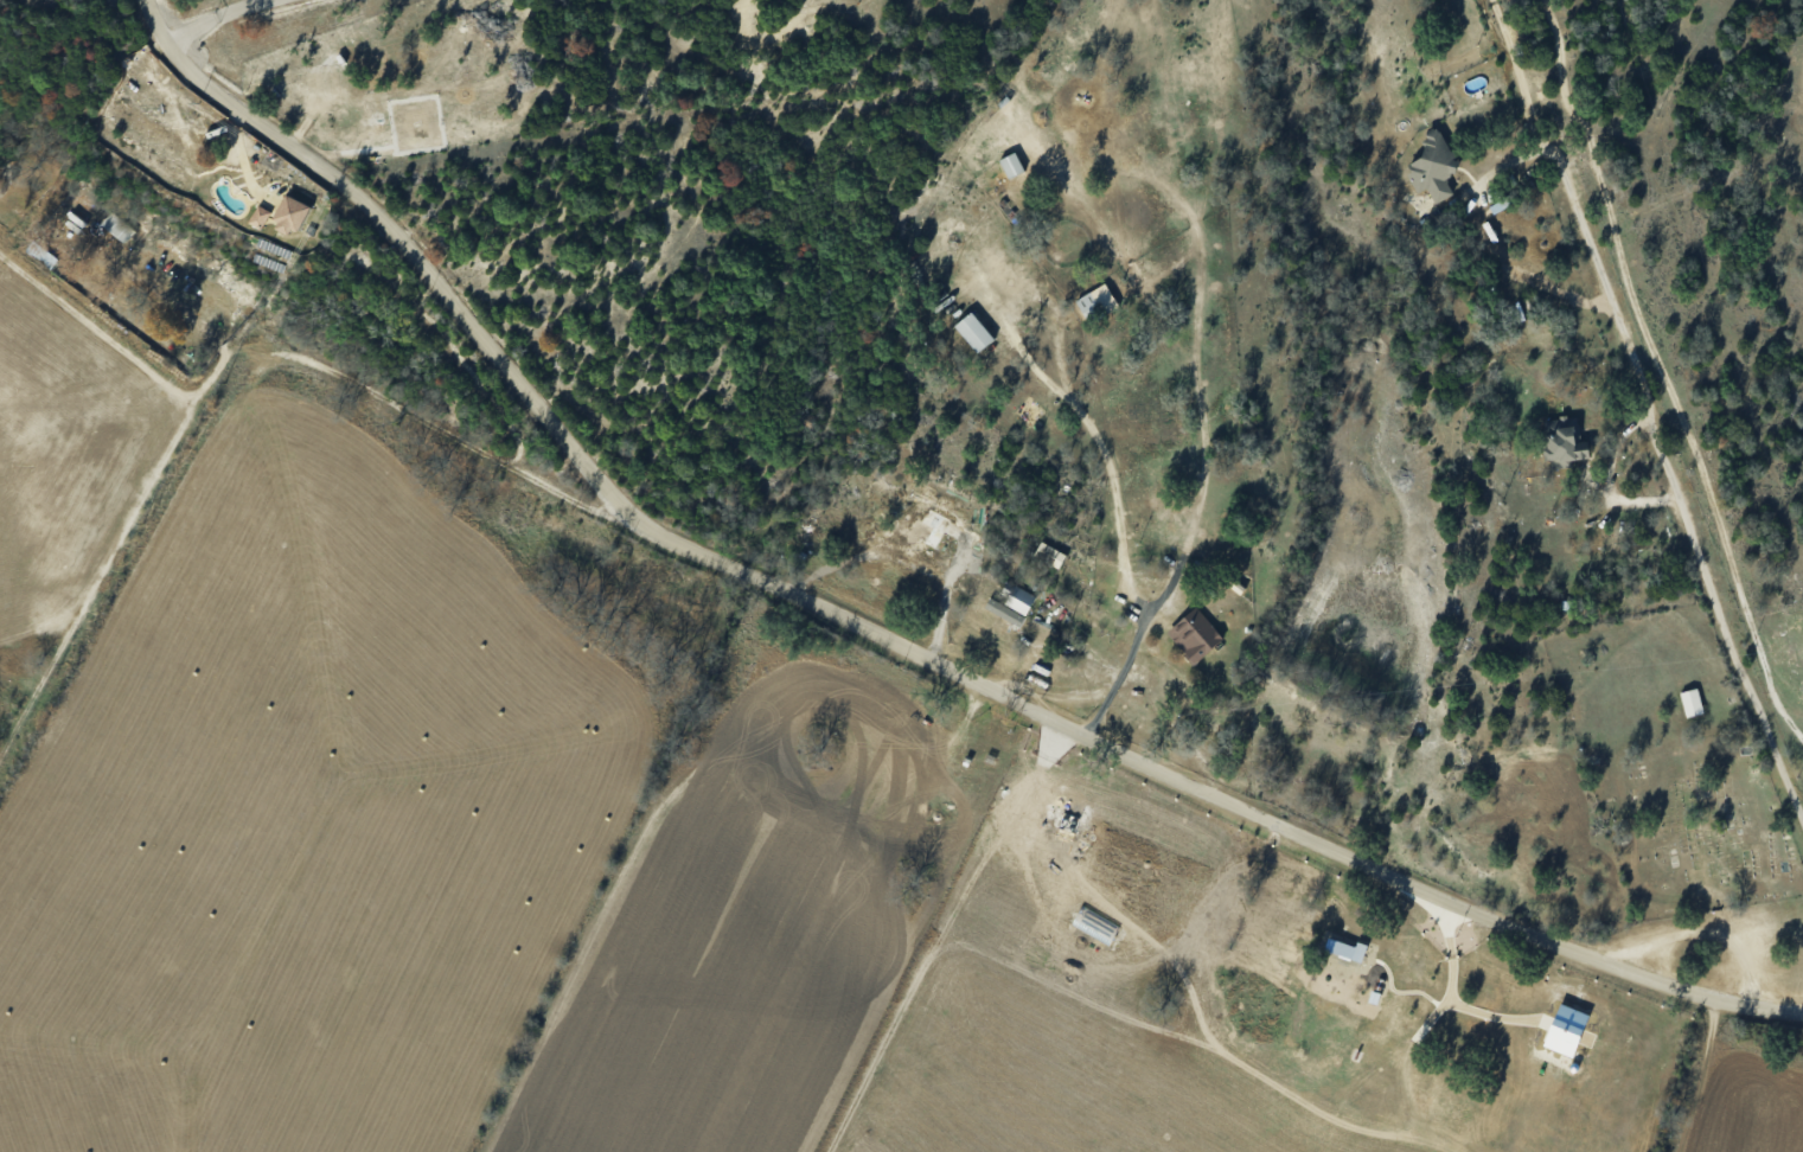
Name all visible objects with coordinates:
road: (216, 17)
building: (1012, 165)
building: (1434, 166)
building: (293, 215)
building: (261, 216)
building: (1096, 302)
building: (974, 332)
road: (134, 359)
road: (1644, 410)
building: (1565, 441)
road: (1119, 520)
building: (928, 530)
road: (863, 555)
road: (941, 600)
building: (1012, 604)
building: (1196, 635)
road: (880, 636)
building: (1692, 702)
park: (1673, 763)
building: (1347, 949)
road: (1447, 993)
building: (1568, 1030)

